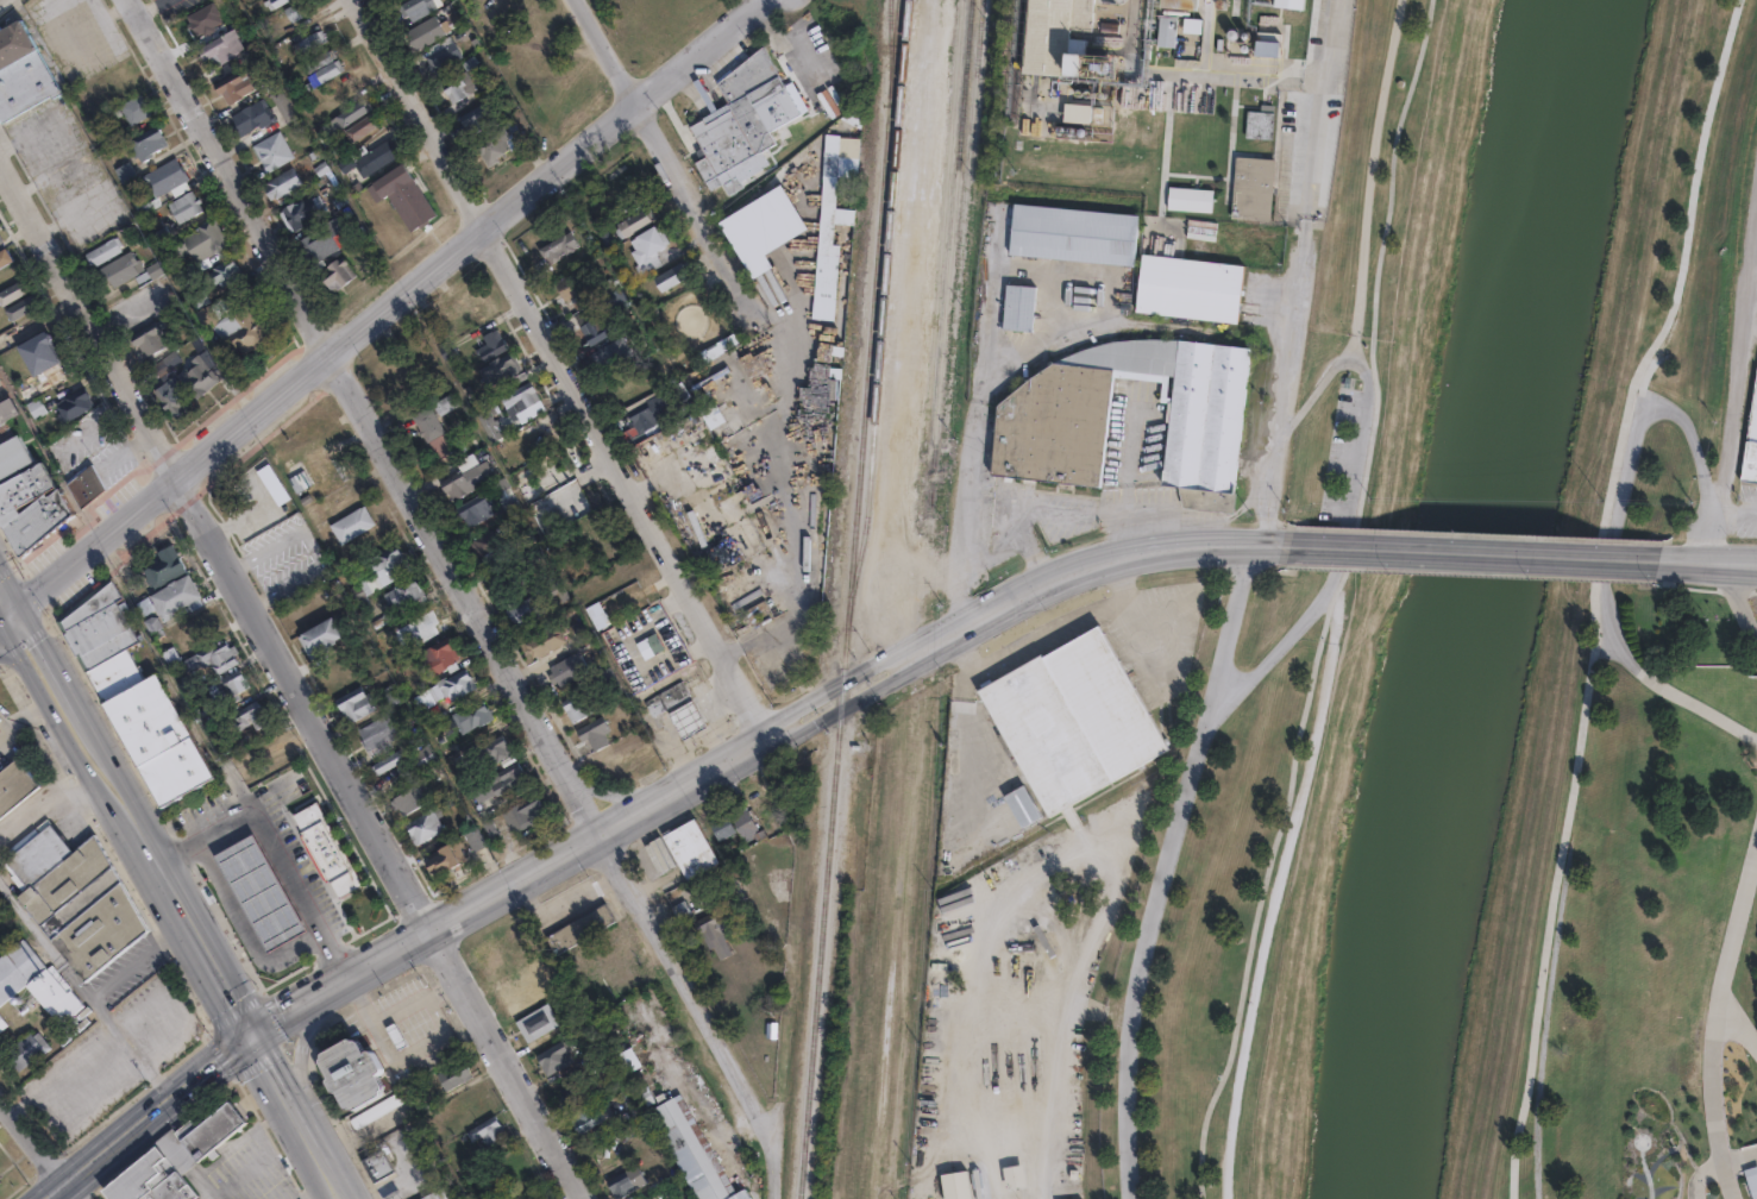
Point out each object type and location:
building: (1180, 1)
building: (275, 2)
building: (1292, 4)
road: (151, 6)
building: (416, 7)
road: (1746, 7)
building: (301, 10)
building: (197, 23)
building: (814, 23)
building: (1187, 24)
building: (427, 31)
building: (1163, 31)
railway: (889, 36)
railway: (892, 36)
building: (1053, 36)
building: (308, 42)
building: (1268, 43)
building: (222, 48)
building: (443, 57)
railway: (1014, 58)
building: (322, 69)
building: (21, 71)
building: (237, 84)
building: (459, 86)
building: (281, 105)
building: (136, 108)
building: (741, 109)
building: (347, 114)
building: (1081, 114)
building: (251, 117)
building: (476, 117)
building: (854, 117)
building: (1256, 124)
building: (1098, 125)
building: (363, 126)
building: (148, 143)
building: (496, 143)
building: (271, 150)
road: (664, 153)
building: (369, 156)
building: (126, 171)
building: (168, 176)
building: (283, 184)
building: (1250, 188)
building: (406, 195)
building: (1186, 199)
building: (187, 206)
building: (826, 207)
building: (303, 209)
railway: (962, 220)
building: (633, 221)
railway: (941, 221)
building: (751, 232)
building: (1071, 233)
building: (1, 238)
building: (324, 240)
building: (645, 244)
building: (560, 247)
building: (199, 249)
building: (103, 250)
building: (5, 257)
railway: (948, 262)
building: (123, 268)
building: (152, 270)
building: (226, 270)
building: (629, 270)
road: (1301, 271)
building: (338, 274)
building: (672, 281)
building: (346, 283)
building: (576, 284)
building: (1187, 288)
building: (13, 290)
road: (1376, 290)
railway: (883, 302)
building: (23, 306)
building: (476, 306)
building: (1017, 306)
road: (384, 308)
building: (244, 325)
building: (602, 329)
building: (150, 339)
building: (36, 340)
building: (489, 344)
building: (615, 354)
building: (48, 362)
building: (167, 365)
road: (1737, 366)
building: (498, 369)
road: (563, 369)
building: (200, 376)
road: (1317, 387)
building: (519, 396)
building: (39, 398)
building: (444, 403)
building: (74, 404)
building: (181, 408)
building: (38, 409)
building: (708, 409)
building: (651, 412)
building: (82, 415)
road: (363, 420)
building: (426, 423)
building: (489, 426)
road: (972, 437)
building: (1047, 439)
building: (1751, 440)
road: (1693, 446)
road: (1125, 475)
building: (326, 476)
building: (454, 484)
building: (535, 489)
road: (791, 494)
building: (95, 496)
building: (506, 496)
building: (31, 501)
building: (473, 509)
road: (1029, 510)
building: (314, 513)
road: (1733, 520)
building: (349, 523)
building: (487, 541)
road: (1472, 552)
building: (531, 553)
road: (1708, 561)
building: (385, 563)
building: (165, 570)
building: (506, 577)
road: (1118, 580)
building: (556, 586)
building: (401, 591)
road: (1607, 591)
building: (170, 597)
building: (359, 598)
river: (1468, 598)
road: (1739, 599)
road: (5, 605)
building: (526, 608)
traffic signals: (11, 616)
road: (5, 620)
road: (1044, 628)
road: (1144, 634)
railway: (845, 635)
road: (1224, 636)
building: (319, 638)
building: (545, 638)
building: (439, 655)
road: (545, 657)
building: (212, 658)
building: (567, 667)
road: (289, 674)
road: (50, 685)
building: (450, 685)
building: (233, 688)
building: (671, 693)
building: (134, 695)
building: (388, 695)
building: (352, 703)
building: (577, 704)
road: (972, 707)
building: (470, 716)
building: (249, 717)
building: (1073, 717)
building: (684, 718)
gas station: (684, 718)
road: (790, 724)
building: (377, 733)
building: (592, 733)
building: (487, 751)
building: (422, 757)
building: (388, 761)
building: (504, 778)
building: (12, 787)
road: (114, 798)
building: (408, 799)
road: (46, 801)
building: (1023, 806)
building: (520, 812)
building: (734, 821)
building: (423, 826)
building: (780, 837)
building: (472, 839)
road: (276, 845)
building: (691, 846)
building: (326, 847)
road: (269, 848)
building: (660, 855)
building: (445, 856)
road: (241, 862)
road: (1168, 864)
road: (280, 868)
road: (219, 875)
road: (252, 883)
road: (291, 887)
road: (1280, 890)
building: (259, 891)
gas station: (259, 891)
road: (230, 894)
park: (1438, 899)
building: (75, 902)
road: (264, 903)
road: (303, 909)
road: (241, 916)
road: (276, 924)
building: (581, 925)
road: (243, 928)
building: (726, 936)
road: (253, 937)
road: (193, 939)
road: (44, 942)
building: (36, 983)
road: (416, 1000)
road: (1718, 1002)
road: (92, 1003)
building: (646, 1011)
road: (703, 1012)
road: (287, 1013)
road: (434, 1016)
building: (534, 1021)
building: (2, 1022)
road: (1737, 1027)
traffic signals: (249, 1036)
building: (395, 1036)
road: (385, 1044)
building: (26, 1048)
building: (551, 1054)
road: (300, 1056)
building: (628, 1057)
building: (347, 1071)
building: (453, 1076)
road: (277, 1080)
building: (571, 1086)
building: (377, 1112)
building: (585, 1115)
road: (150, 1117)
building: (485, 1132)
road: (39, 1149)
building: (691, 1150)
road: (1739, 1157)
building: (176, 1159)
road: (325, 1162)
building: (378, 1163)
road: (1699, 1174)
building: (1015, 1175)
building: (0, 1179)
building: (622, 1180)
road: (1727, 1180)
building: (0, 1181)
building: (958, 1185)
building: (451, 1191)
building: (433, 1195)
building: (664, 1198)

